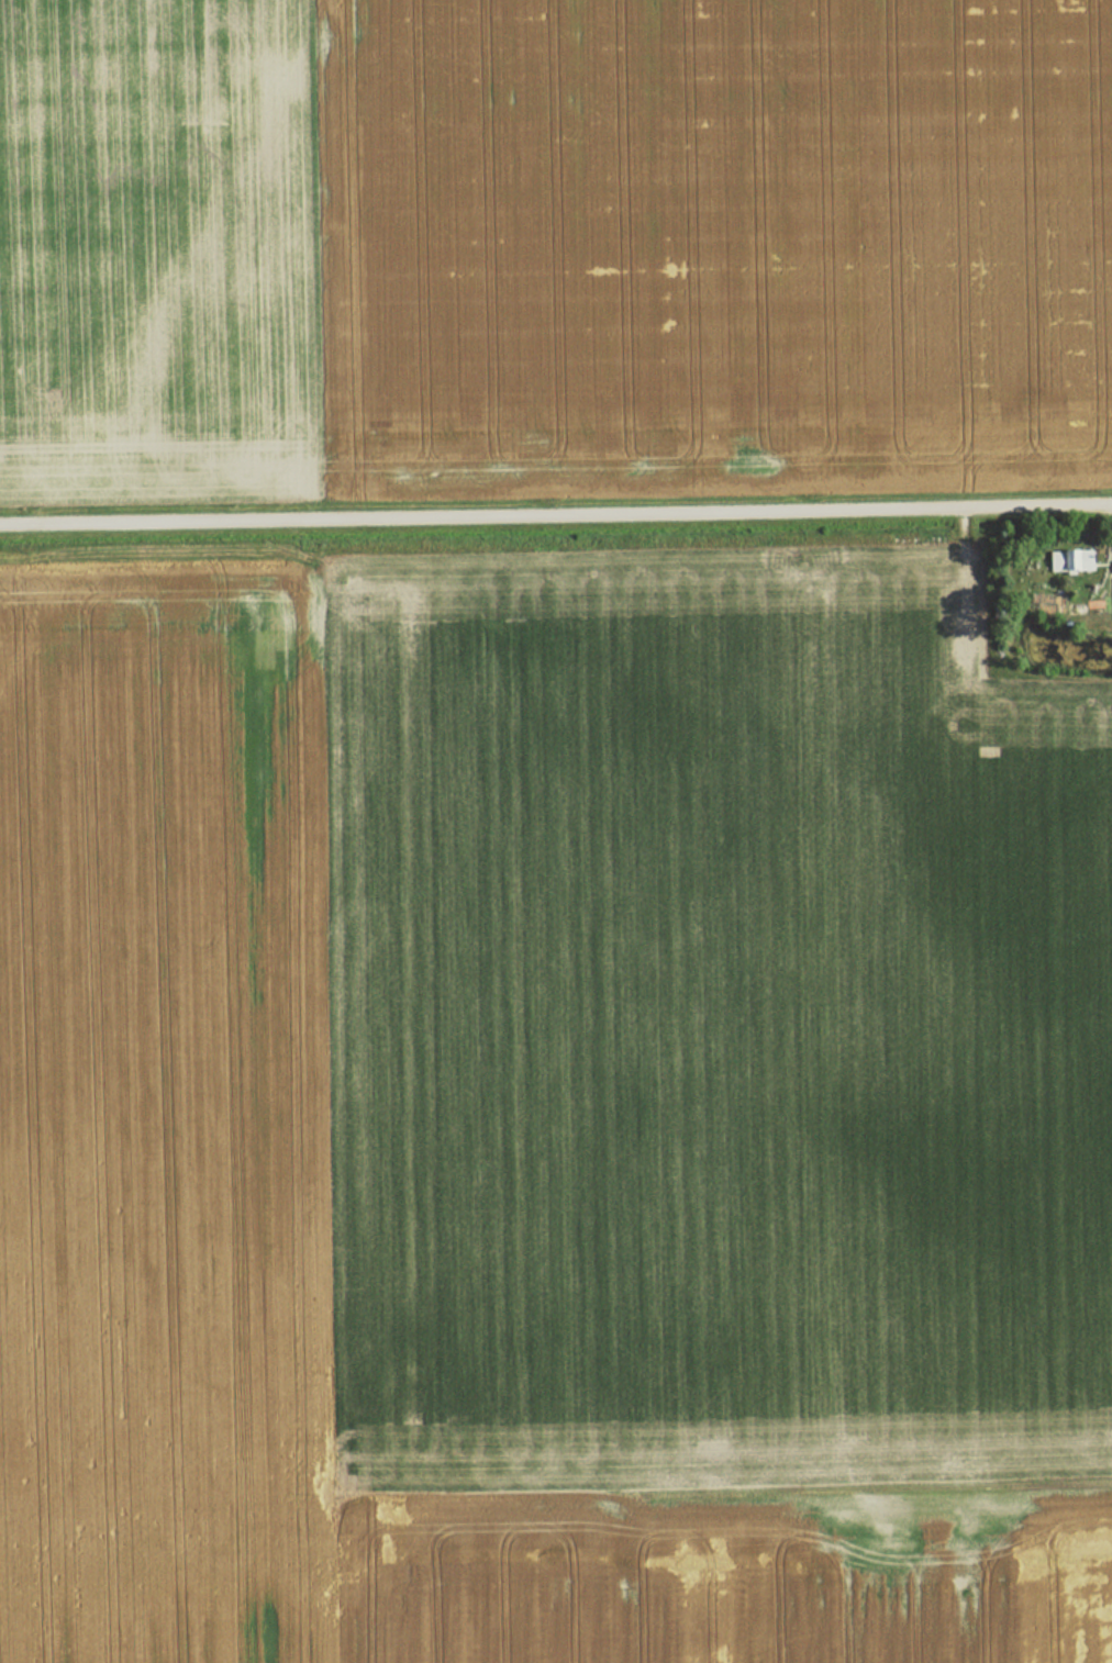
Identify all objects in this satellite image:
crop: (710, 239)
crop: (156, 245)
road: (556, 515)
crop: (710, 1031)
crop: (164, 1106)
crop: (729, 1578)

